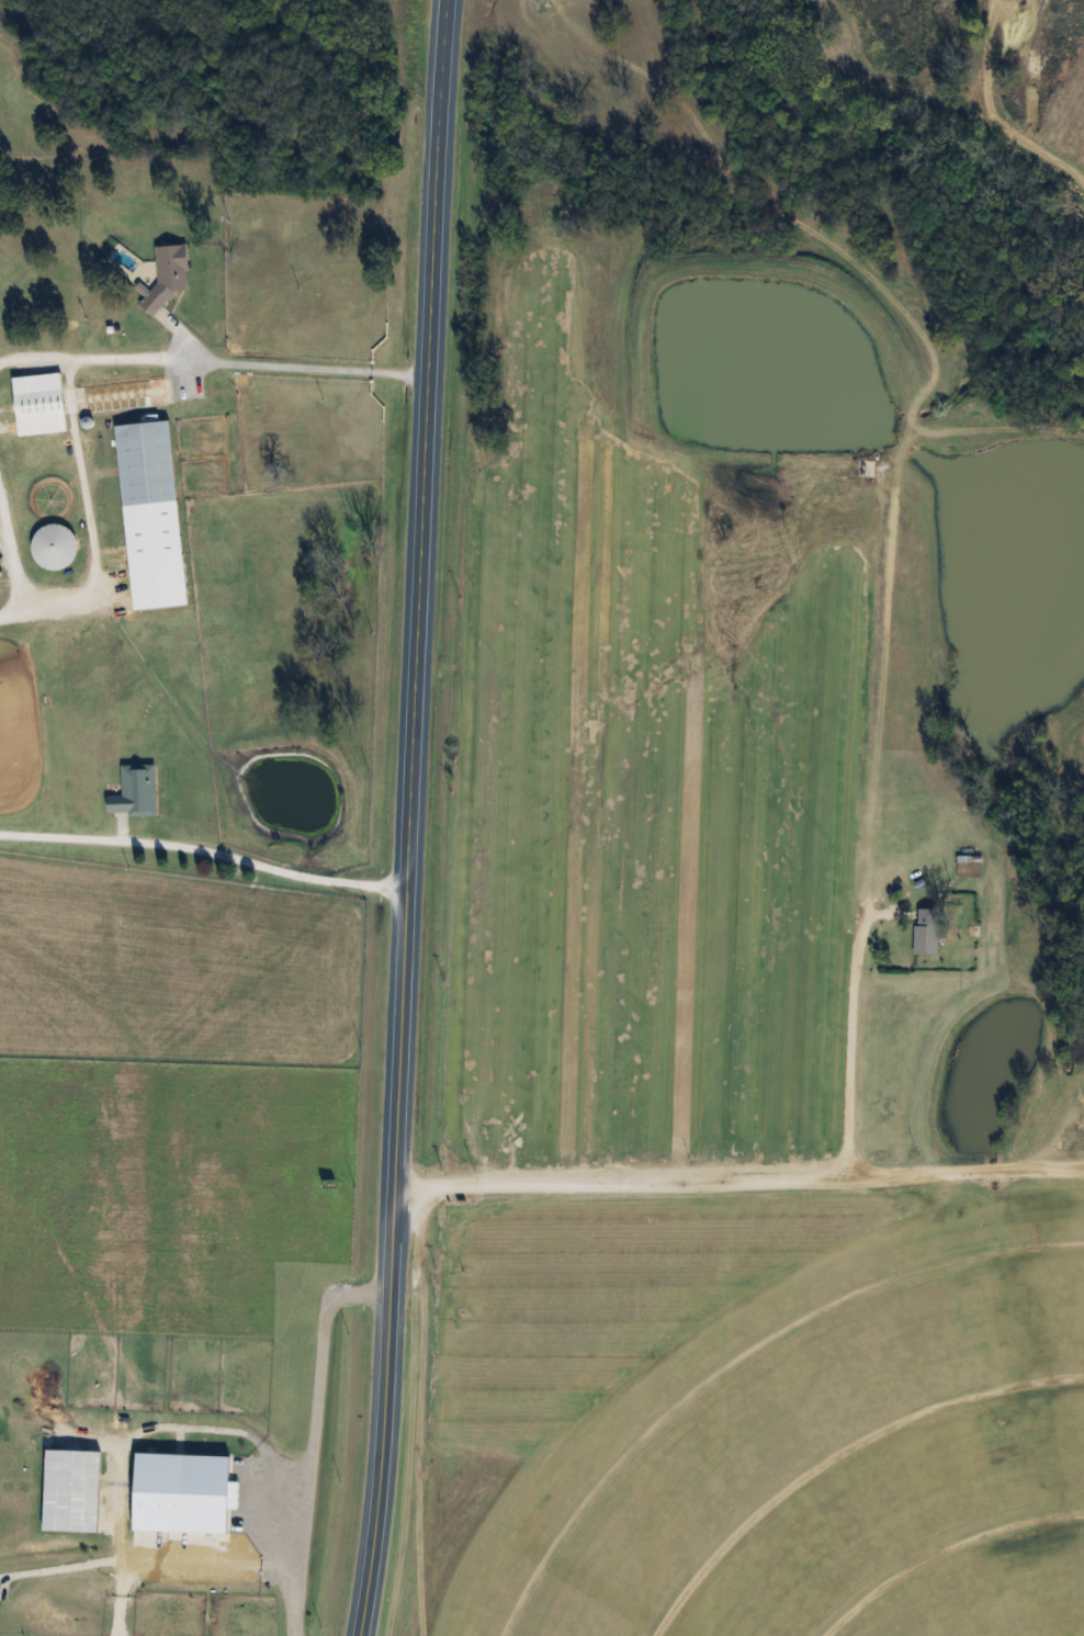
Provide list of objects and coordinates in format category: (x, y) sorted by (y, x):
building: (169, 273)
road: (214, 364)
building: (125, 394)
building: (41, 403)
building: (154, 515)
road: (90, 527)
building: (56, 545)
road: (12, 552)
building: (137, 790)
road: (413, 817)
road: (206, 853)
building: (927, 930)
road: (741, 1175)
road: (317, 1438)
road: (99, 1560)

